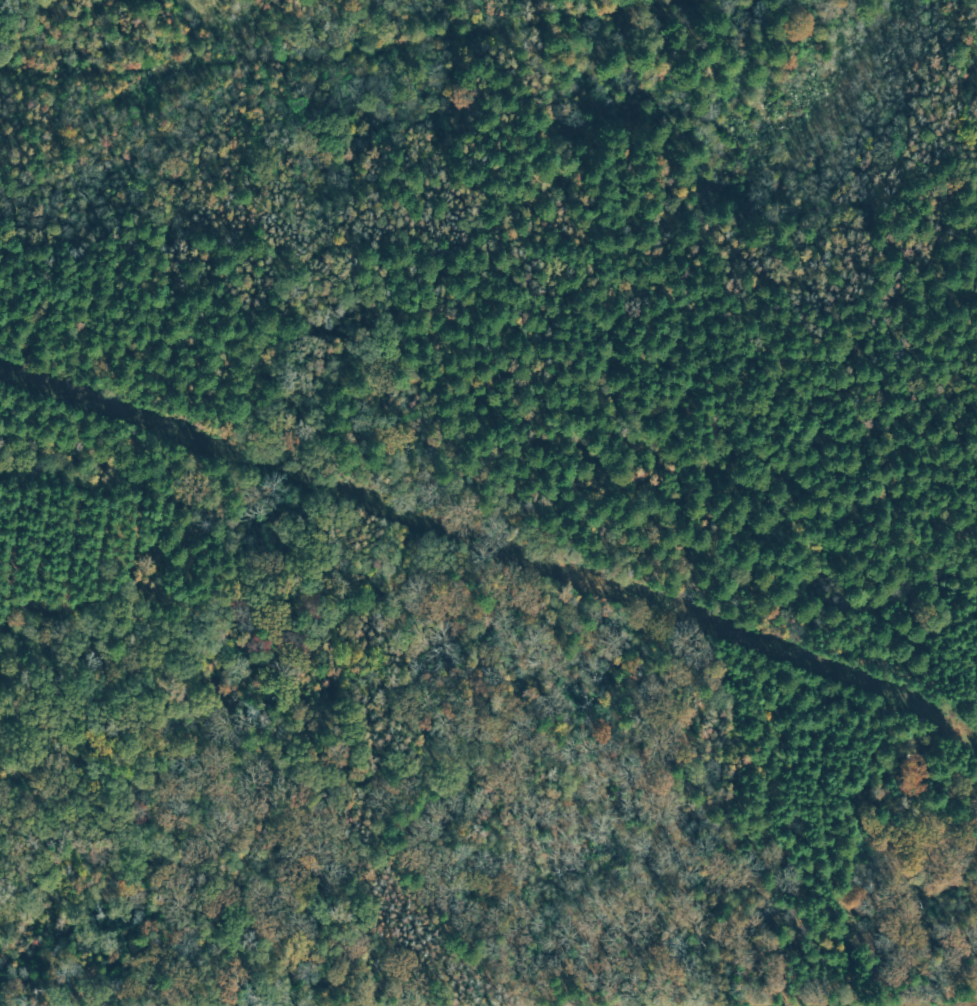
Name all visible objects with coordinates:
road: (887, 845)

